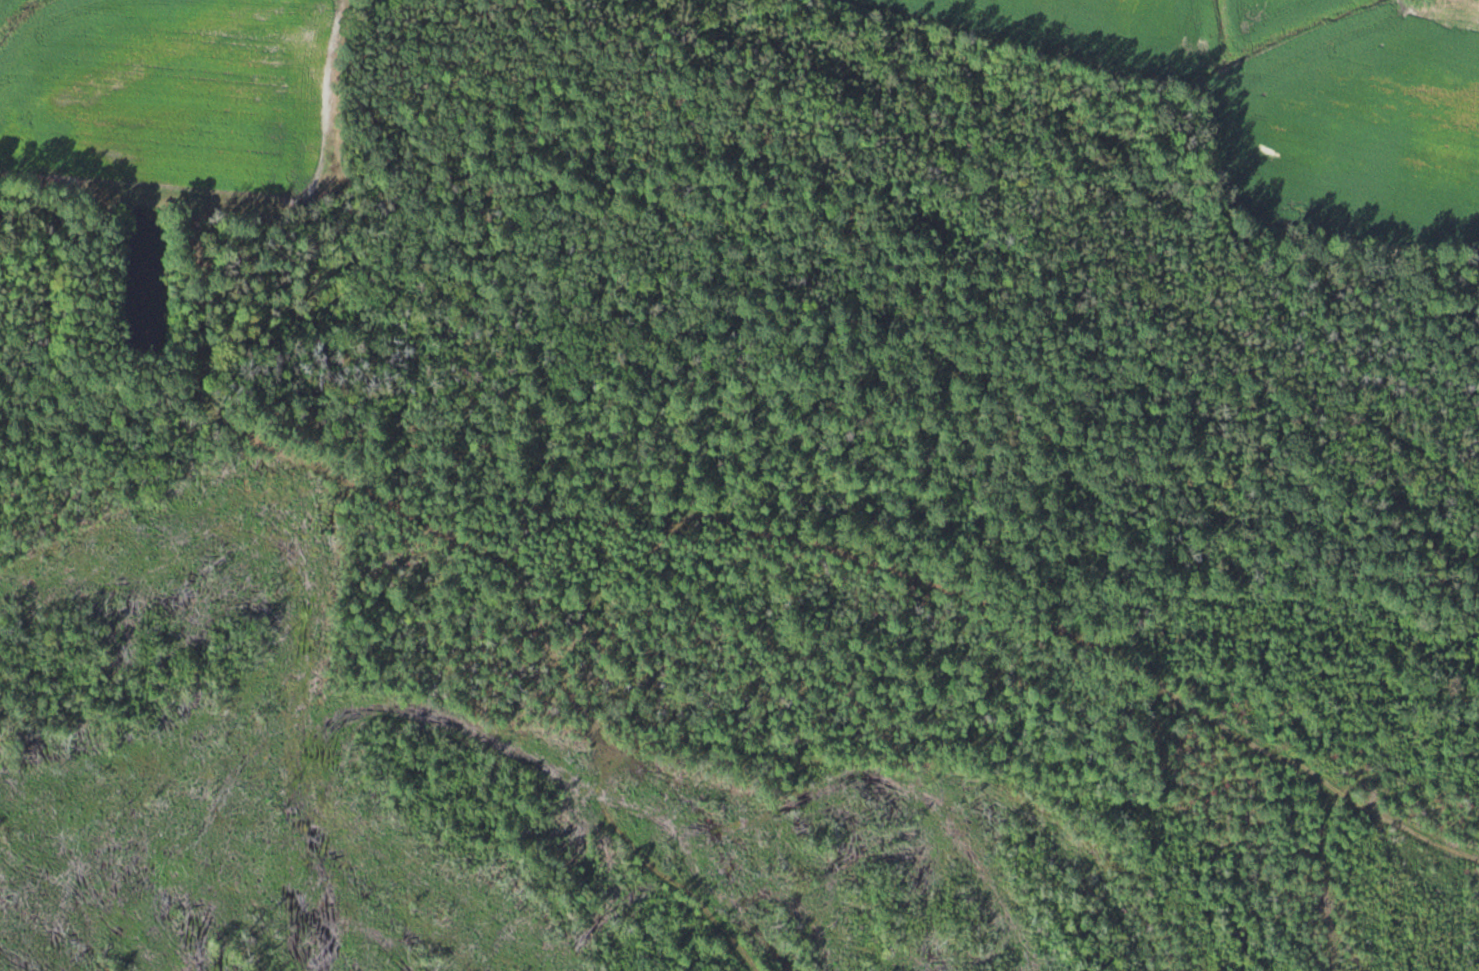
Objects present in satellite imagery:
river: (761, 113)

